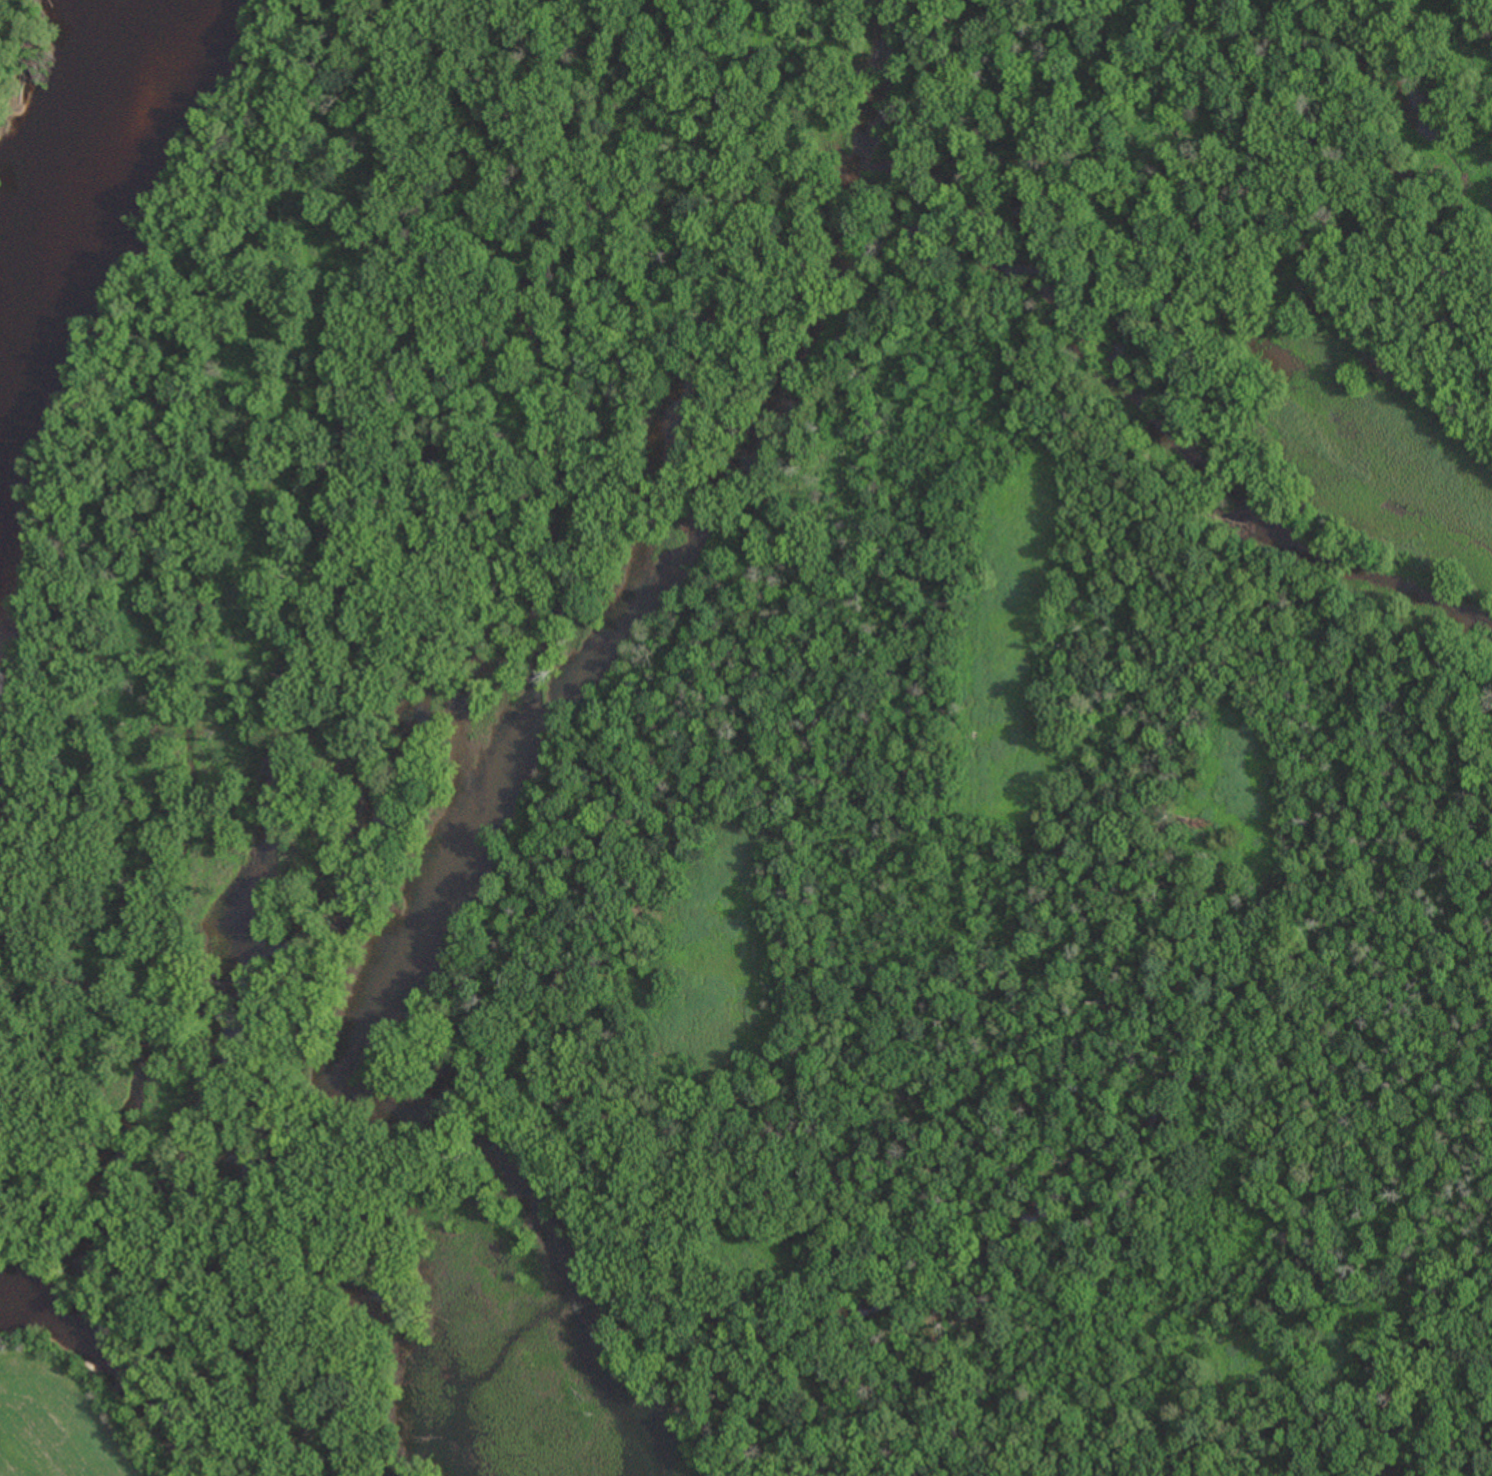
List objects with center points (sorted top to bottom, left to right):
river: (73, 184)

